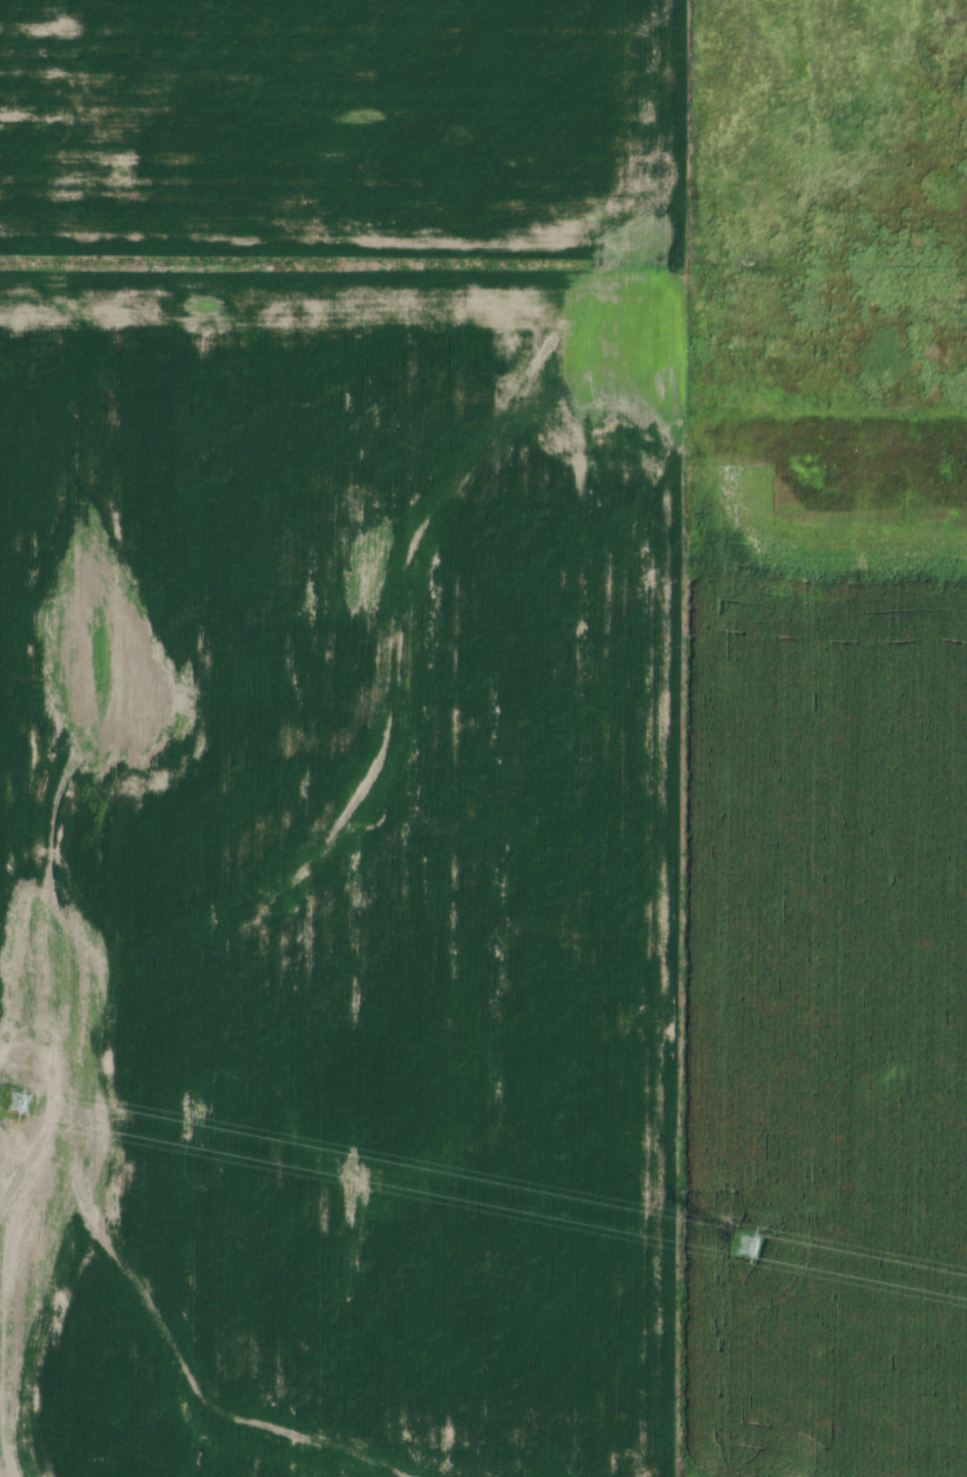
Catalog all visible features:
power tower: (15, 1088)
power tower: (741, 1226)

